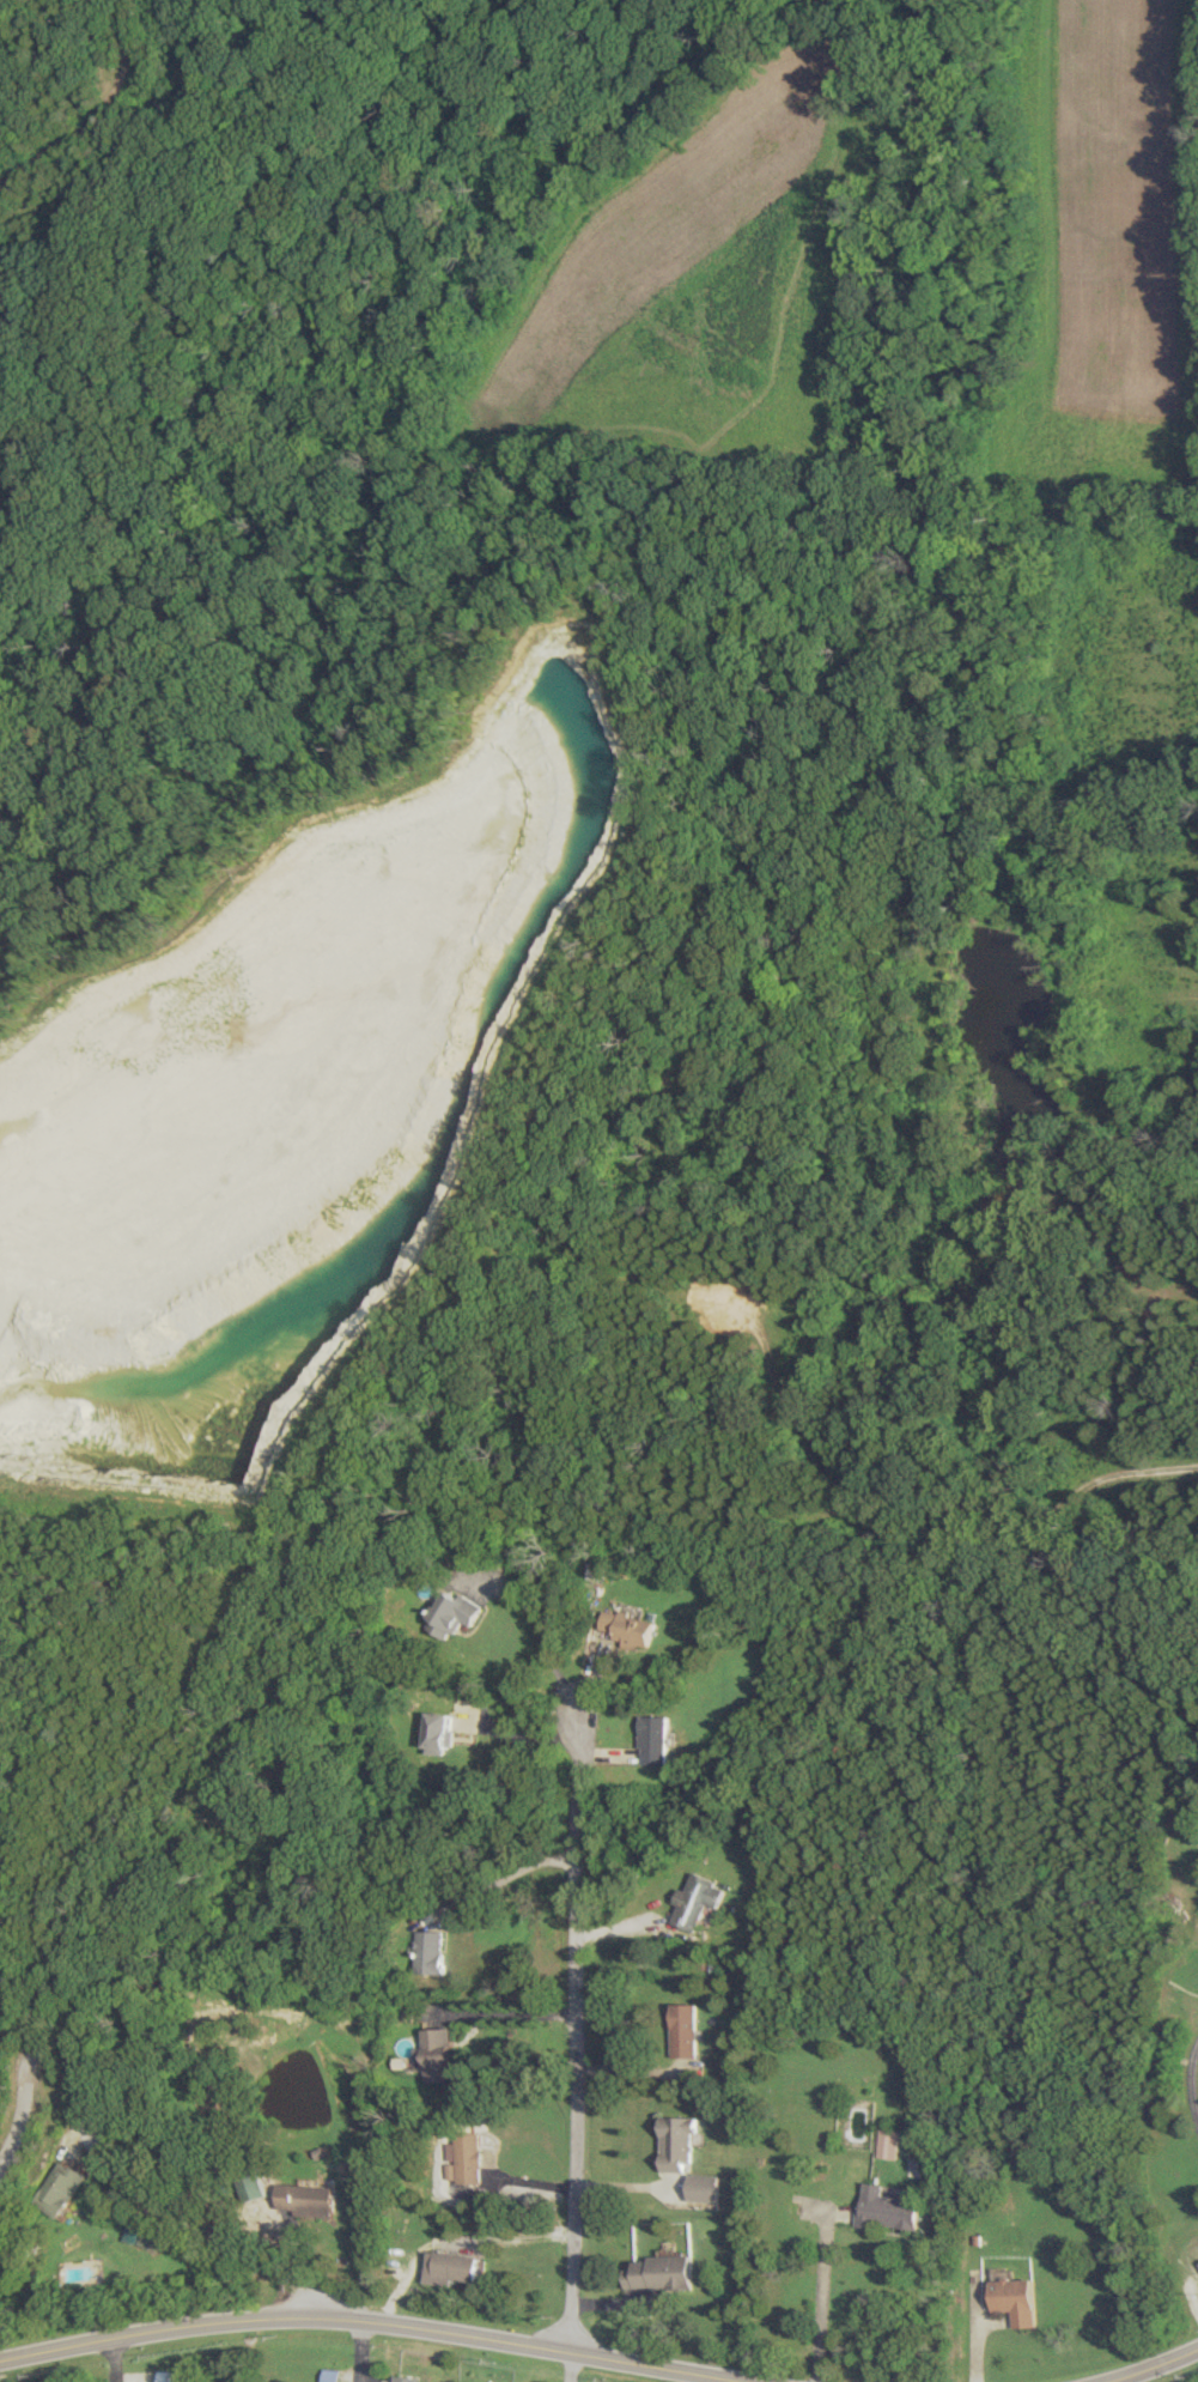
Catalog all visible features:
building: (454, 1613)
building: (628, 1629)
road: (545, 1635)
building: (437, 1732)
building: (653, 1739)
road: (512, 1873)
building: (698, 1901)
building: (432, 1951)
road: (517, 2013)
road: (577, 2030)
building: (685, 2030)
building: (439, 2054)
road: (1193, 2080)
building: (677, 2142)
building: (888, 2142)
building: (463, 2158)
road: (105, 2165)
building: (251, 2186)
building: (703, 2187)
building: (59, 2188)
building: (308, 2199)
building: (139, 2236)
road: (454, 2238)
building: (449, 2267)
building: (659, 2272)
road: (823, 2296)
building: (1015, 2299)
road: (375, 2320)
road: (974, 2331)
road: (357, 2350)
road: (111, 2359)
road: (571, 2366)
road: (1151, 2366)
building: (400, 2378)

